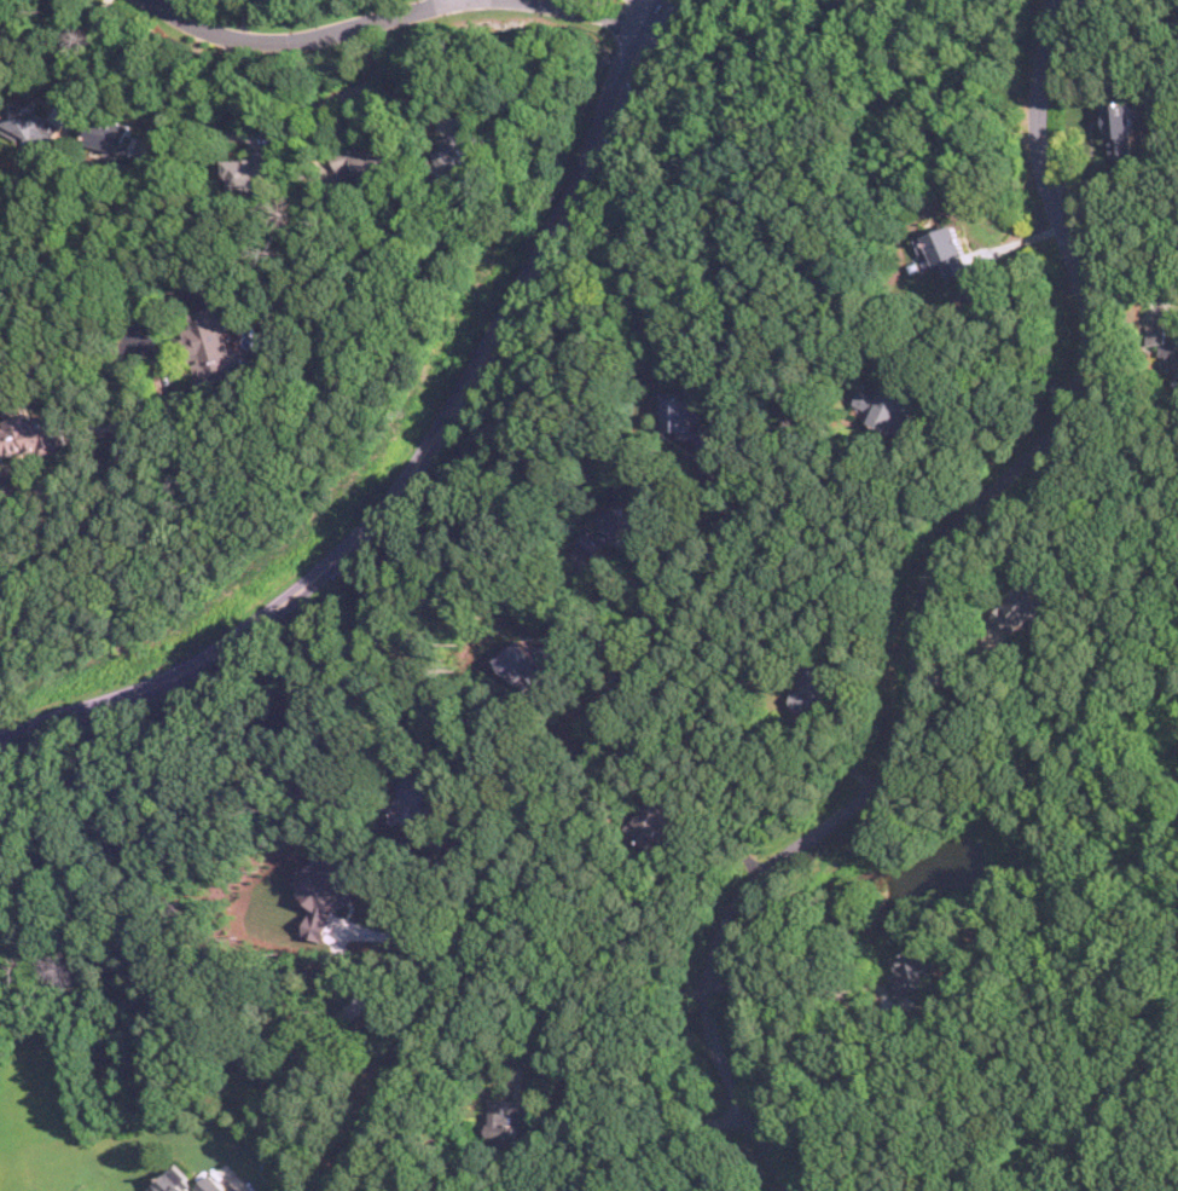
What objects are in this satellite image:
road: (619, 11)
road: (248, 17)
road: (298, 36)
road: (83, 52)
road: (184, 86)
road: (342, 89)
building: (33, 125)
building: (1121, 129)
building: (115, 134)
building: (448, 158)
building: (369, 160)
building: (254, 169)
building: (946, 248)
building: (216, 339)
road: (1000, 341)
building: (1162, 346)
building: (887, 404)
building: (690, 417)
building: (29, 434)
road: (420, 456)
road: (117, 493)
building: (608, 528)
road: (623, 607)
building: (1021, 607)
road: (919, 612)
building: (532, 659)
building: (816, 682)
road: (696, 781)
building: (416, 791)
road: (555, 797)
building: (657, 821)
building: (330, 889)
building: (913, 970)
road: (364, 990)
road: (832, 991)
road: (593, 996)
building: (507, 1117)
road: (367, 1121)
road: (685, 1135)
building: (187, 1181)

